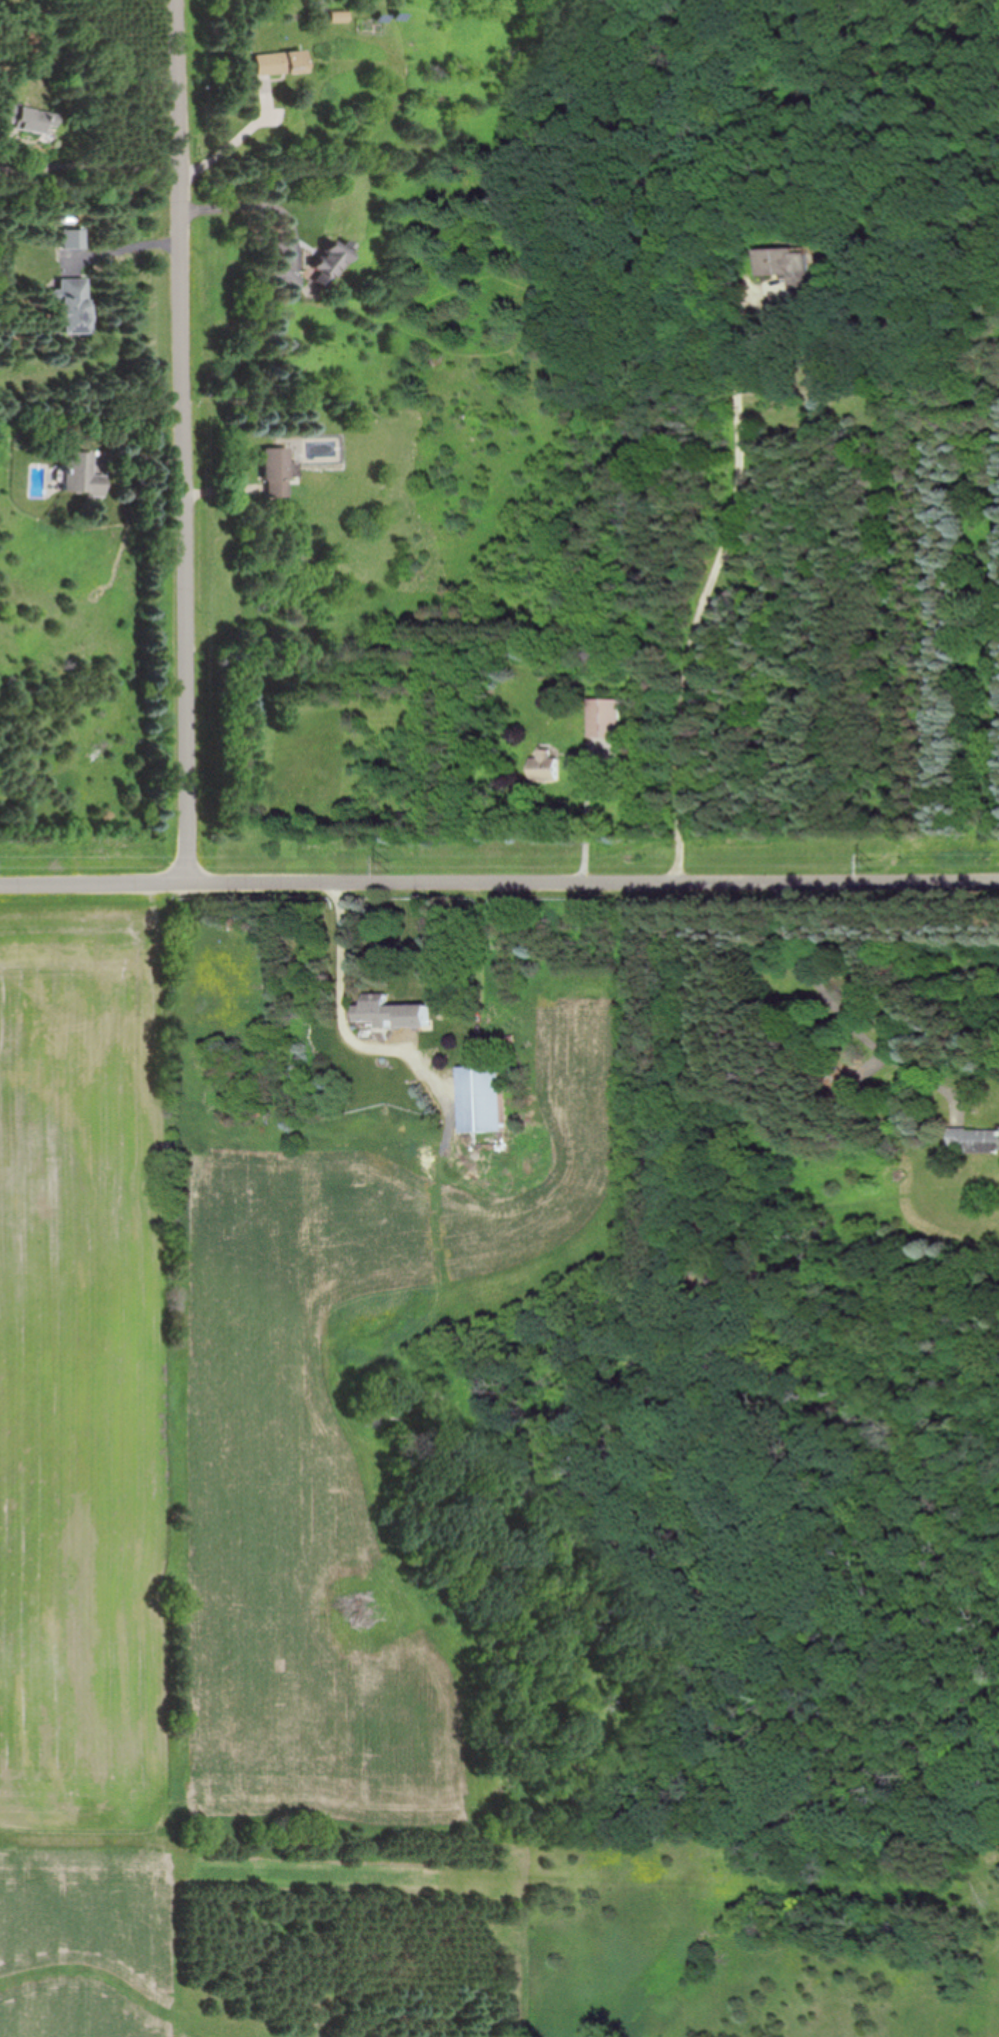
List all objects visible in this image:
building: (277, 62)
building: (20, 118)
road: (237, 135)
road: (98, 169)
road: (260, 206)
building: (72, 239)
building: (326, 261)
building: (788, 262)
building: (284, 278)
building: (71, 305)
road: (185, 439)
building: (273, 472)
building: (78, 475)
road: (717, 579)
building: (608, 718)
building: (546, 766)
road: (587, 823)
power tower: (875, 862)
power tower: (392, 864)
road: (499, 880)
road: (344, 988)
building: (391, 1012)
road: (848, 1016)
building: (482, 1099)
building: (975, 1138)

